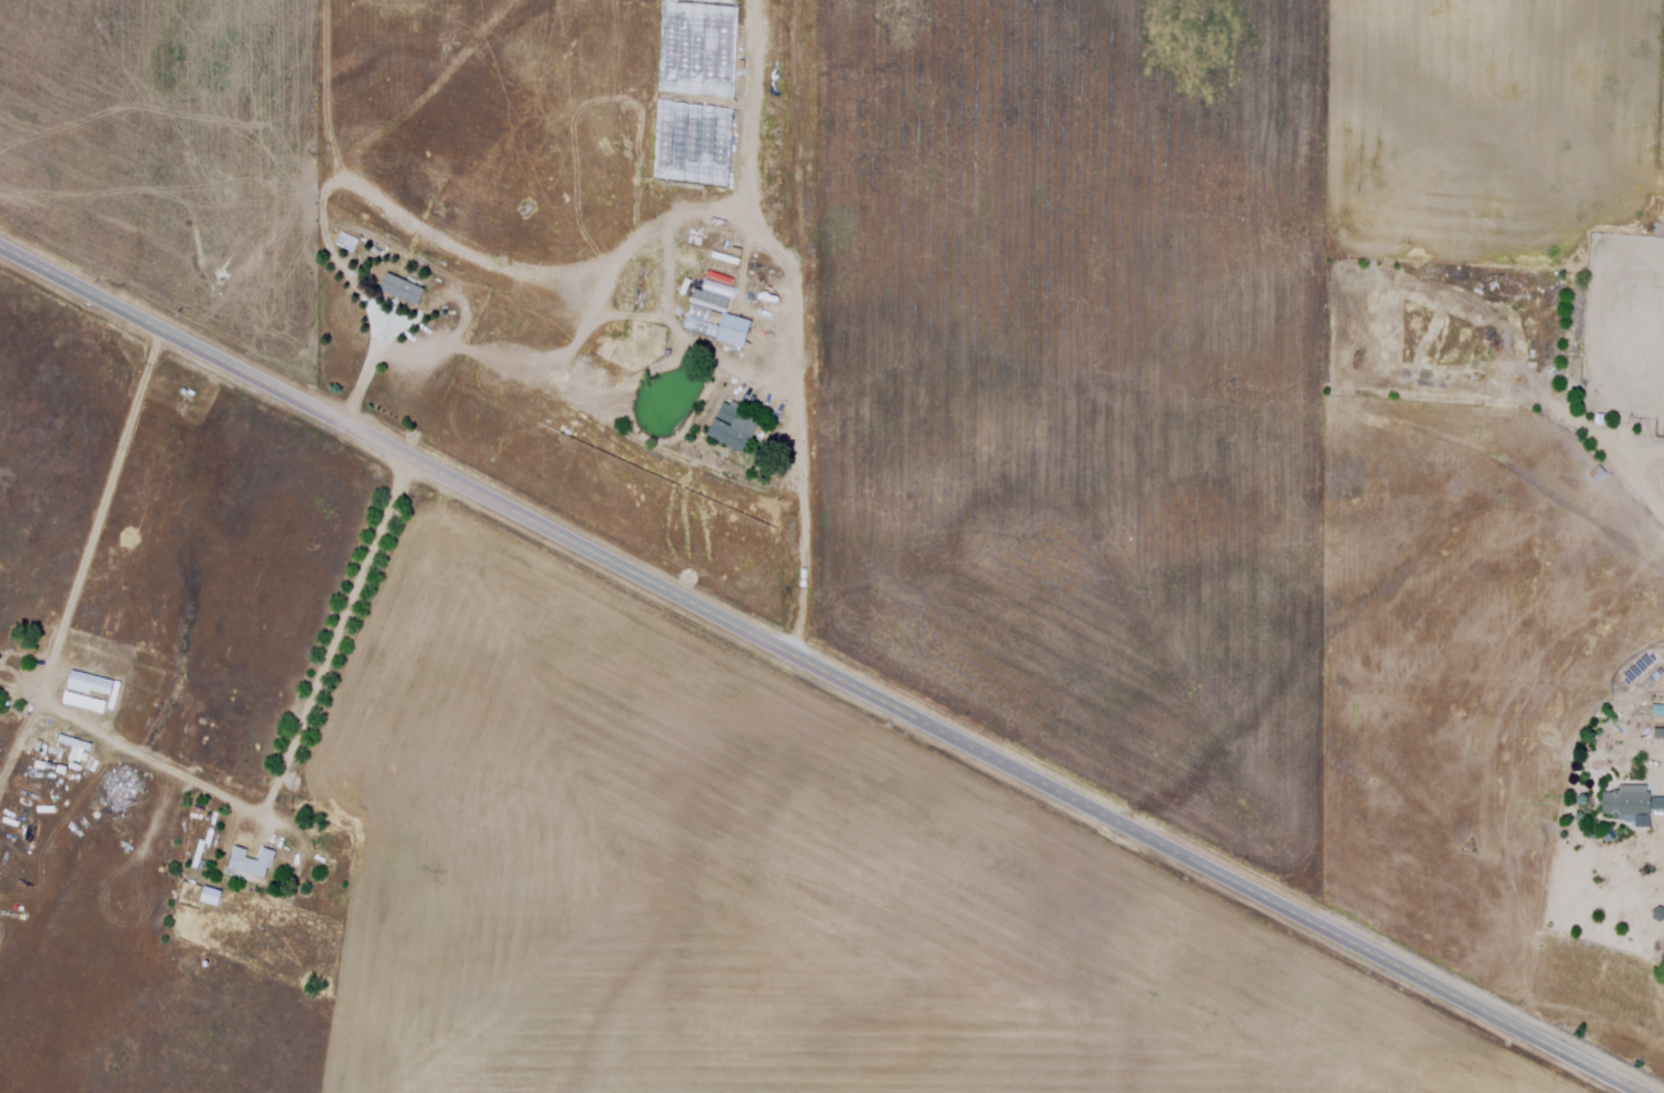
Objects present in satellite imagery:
building: (404, 292)
building: (726, 321)
road: (369, 374)
building: (737, 427)
road: (804, 517)
road: (61, 632)
road: (822, 666)
building: (91, 689)
building: (1658, 710)
building: (71, 754)
building: (1633, 803)
building: (254, 866)
building: (213, 899)

